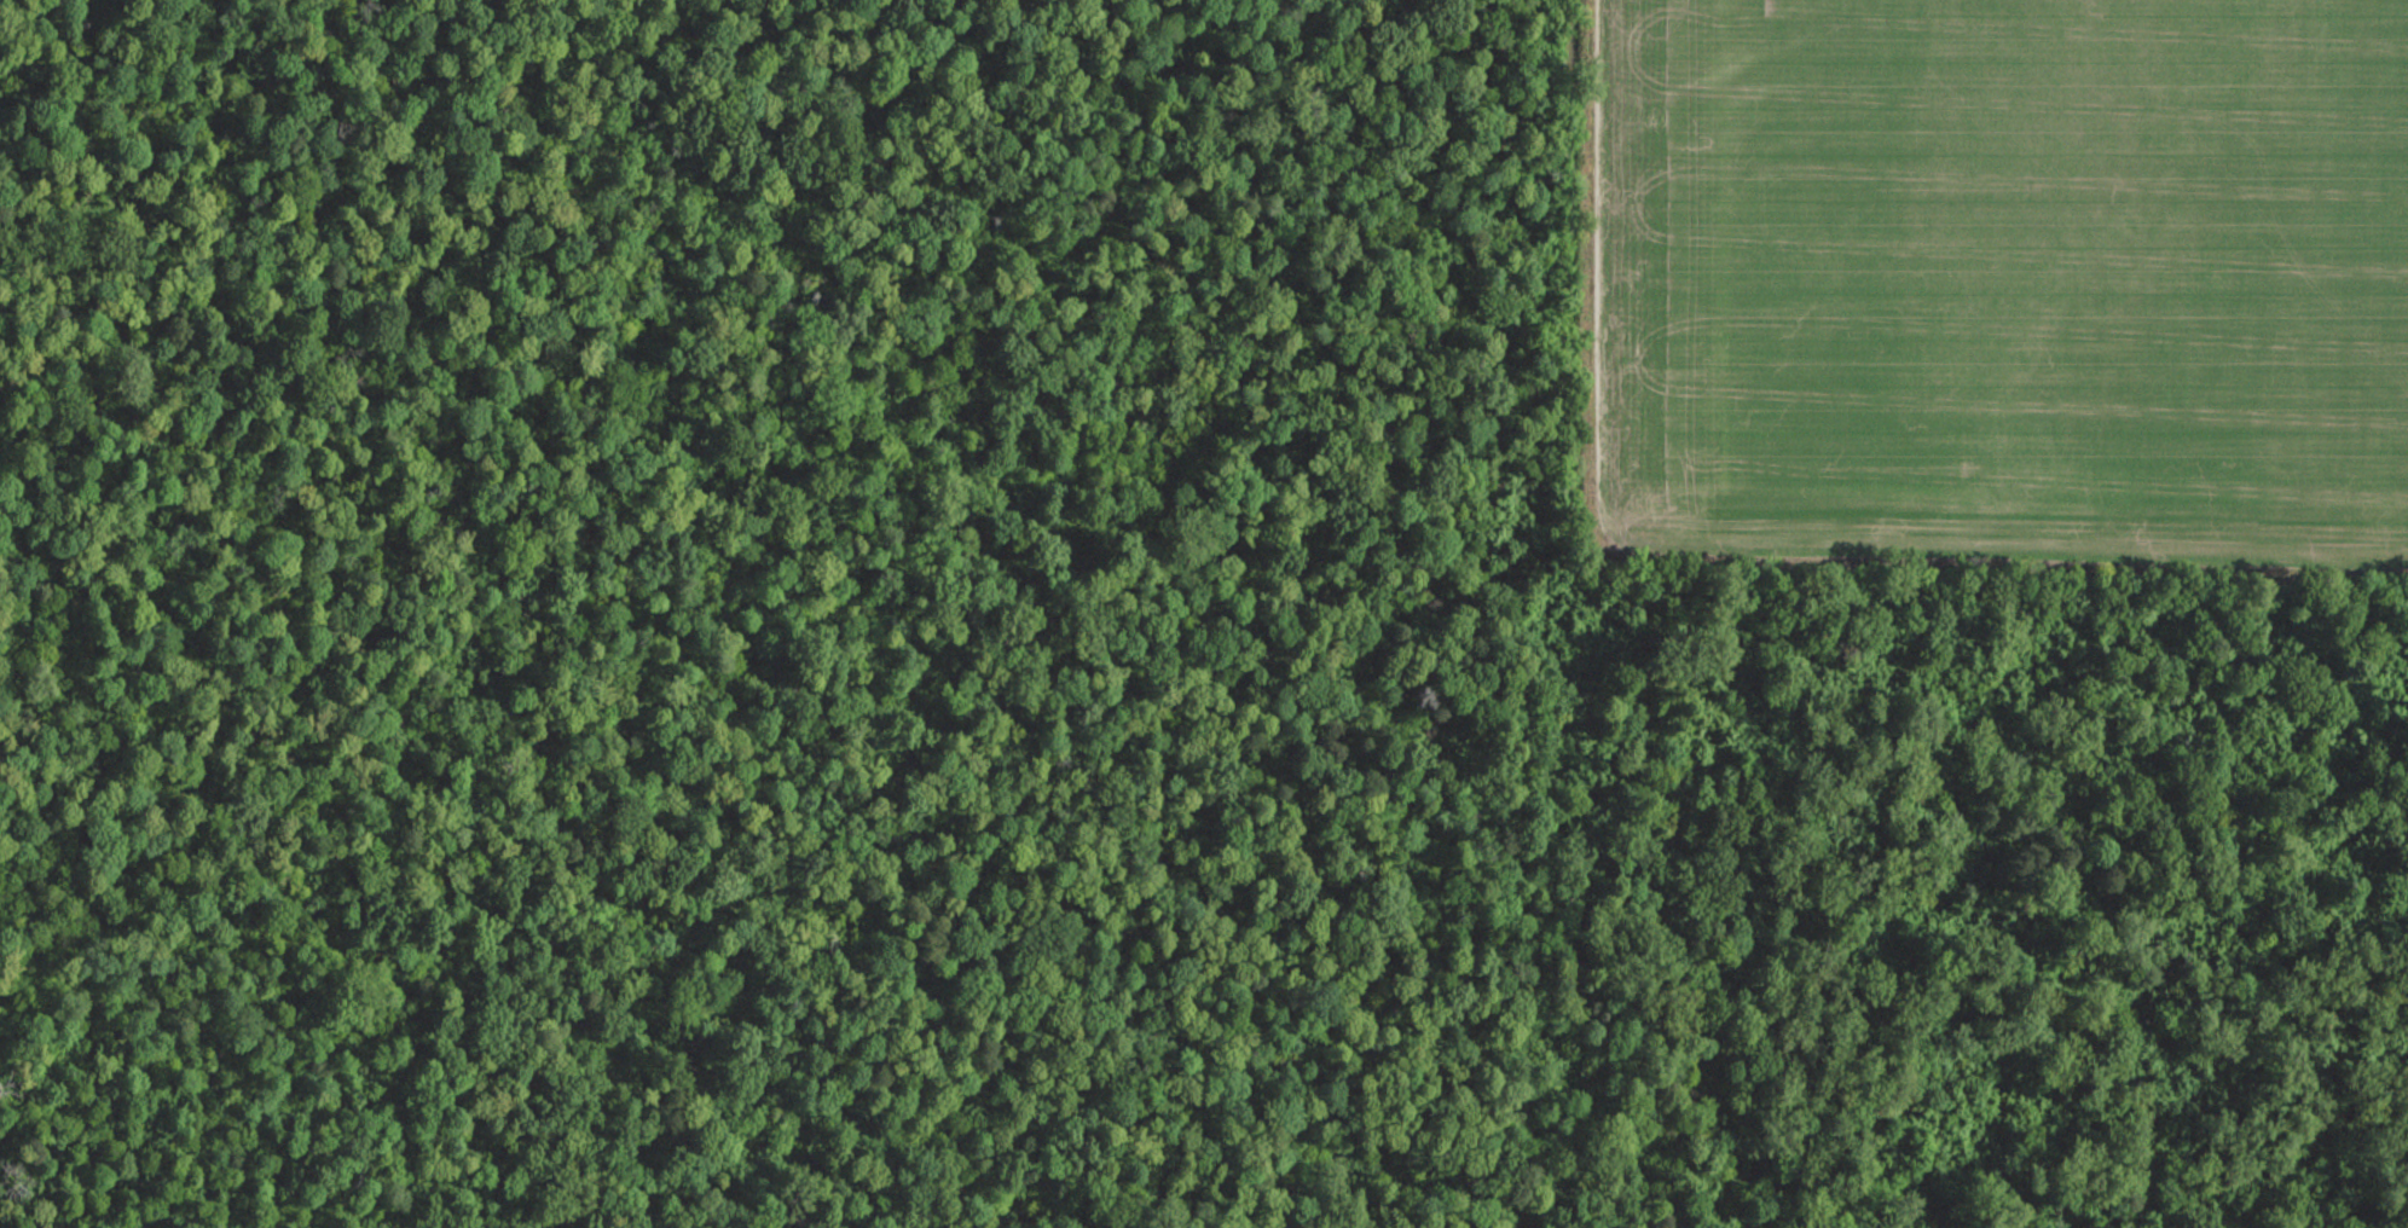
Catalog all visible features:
park: (1044, 680)

